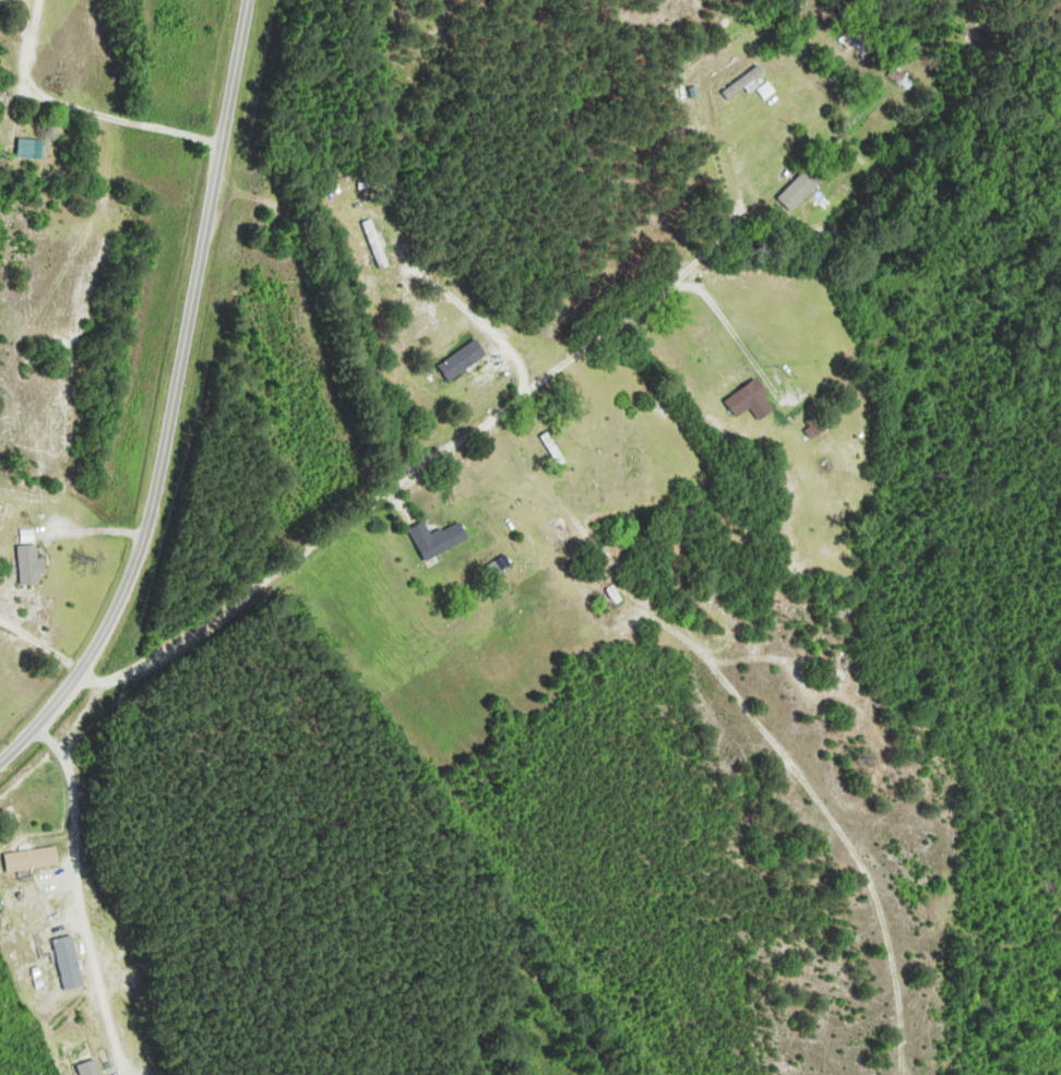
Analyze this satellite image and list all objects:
building: (0, 3)
building: (901, 79)
building: (764, 85)
building: (32, 150)
building: (811, 181)
building: (374, 244)
building: (463, 361)
road: (171, 401)
building: (751, 402)
road: (425, 463)
building: (438, 540)
building: (31, 566)
building: (31, 859)
road: (80, 896)
building: (68, 963)

